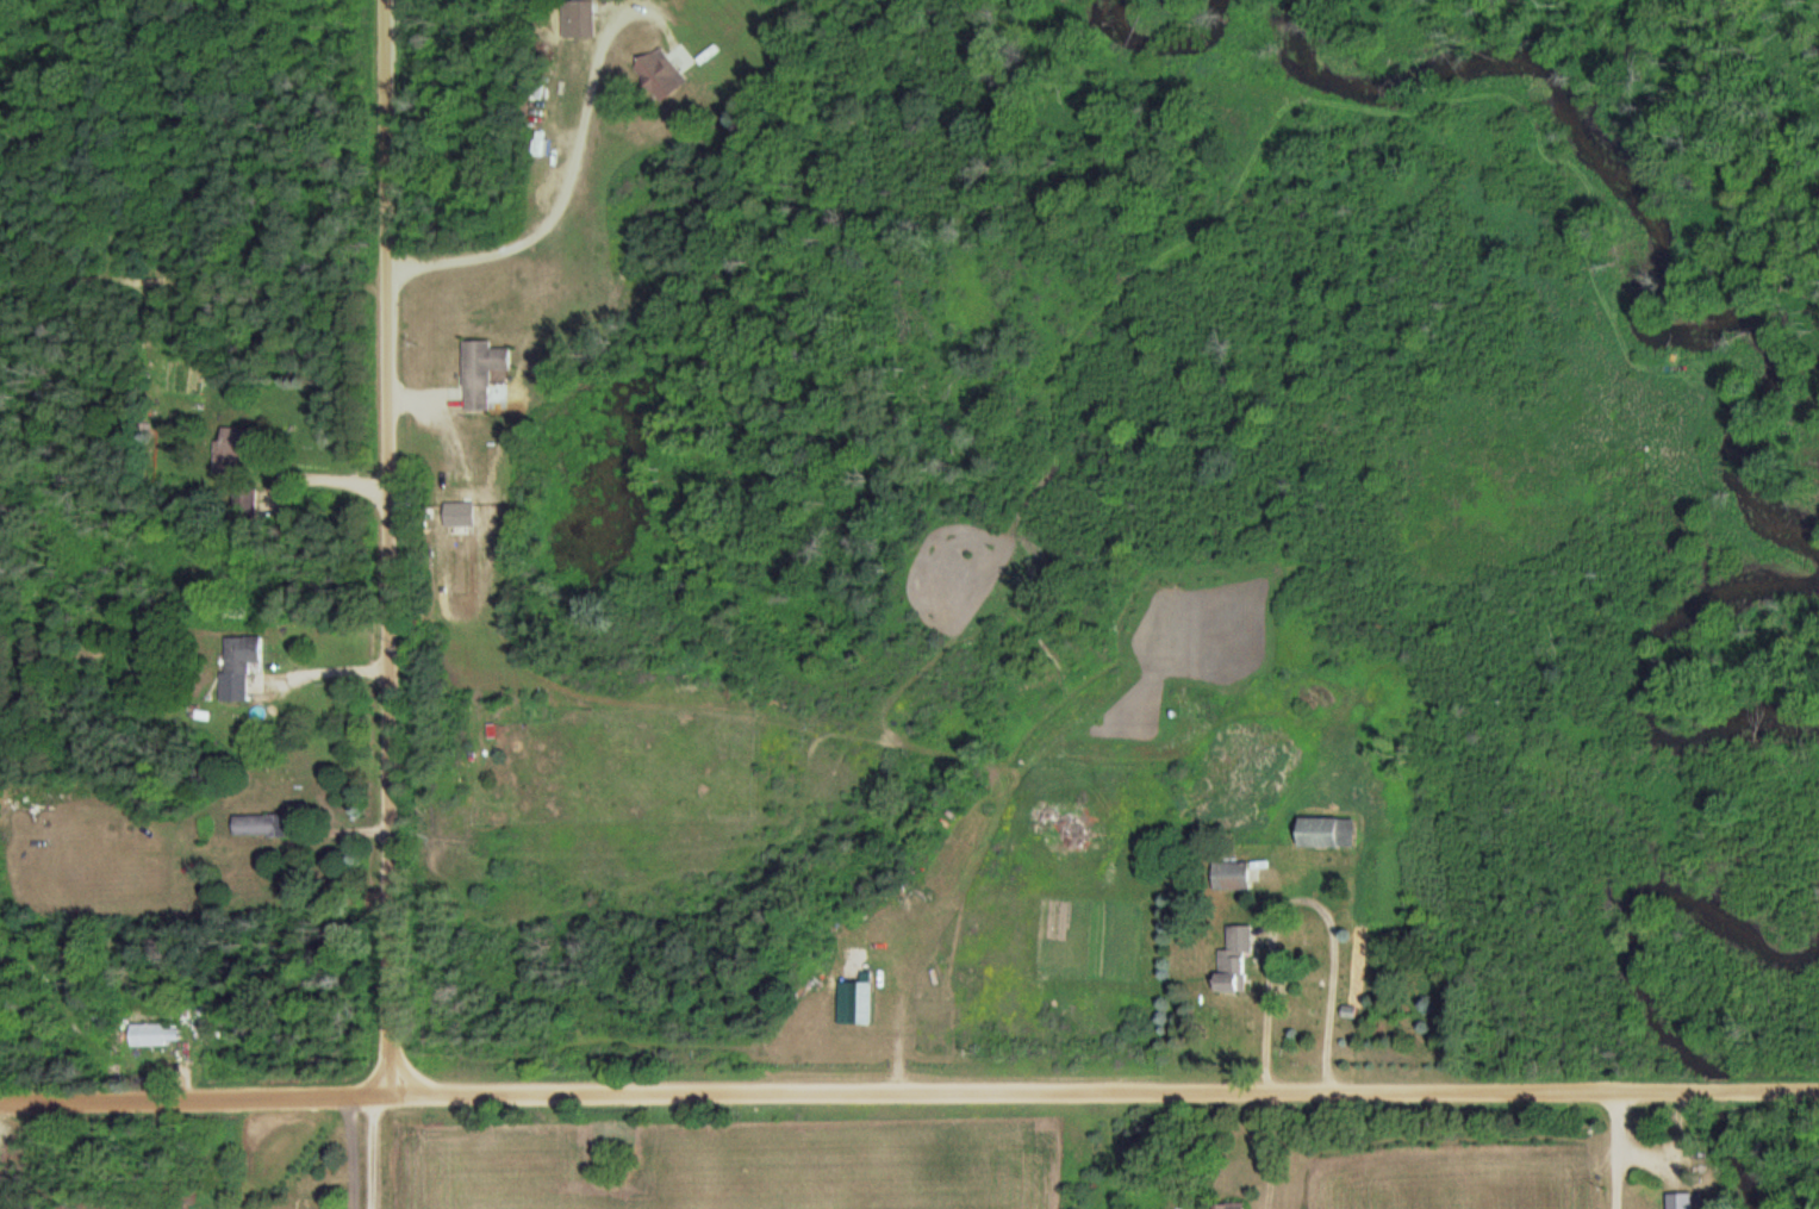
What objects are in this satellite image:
building: (583, 19)
river: (1163, 39)
building: (659, 75)
river: (1646, 204)
building: (481, 373)
building: (231, 449)
road: (328, 474)
building: (244, 511)
road: (390, 543)
building: (238, 666)
river: (1646, 667)
building: (261, 824)
building: (1231, 875)
river: (1638, 895)
building: (1227, 981)
building: (151, 1036)
river: (1725, 1085)
road: (1098, 1086)
road: (189, 1091)
road: (373, 1147)
river: (1740, 1157)
building: (1683, 1201)
building: (1232, 1205)

